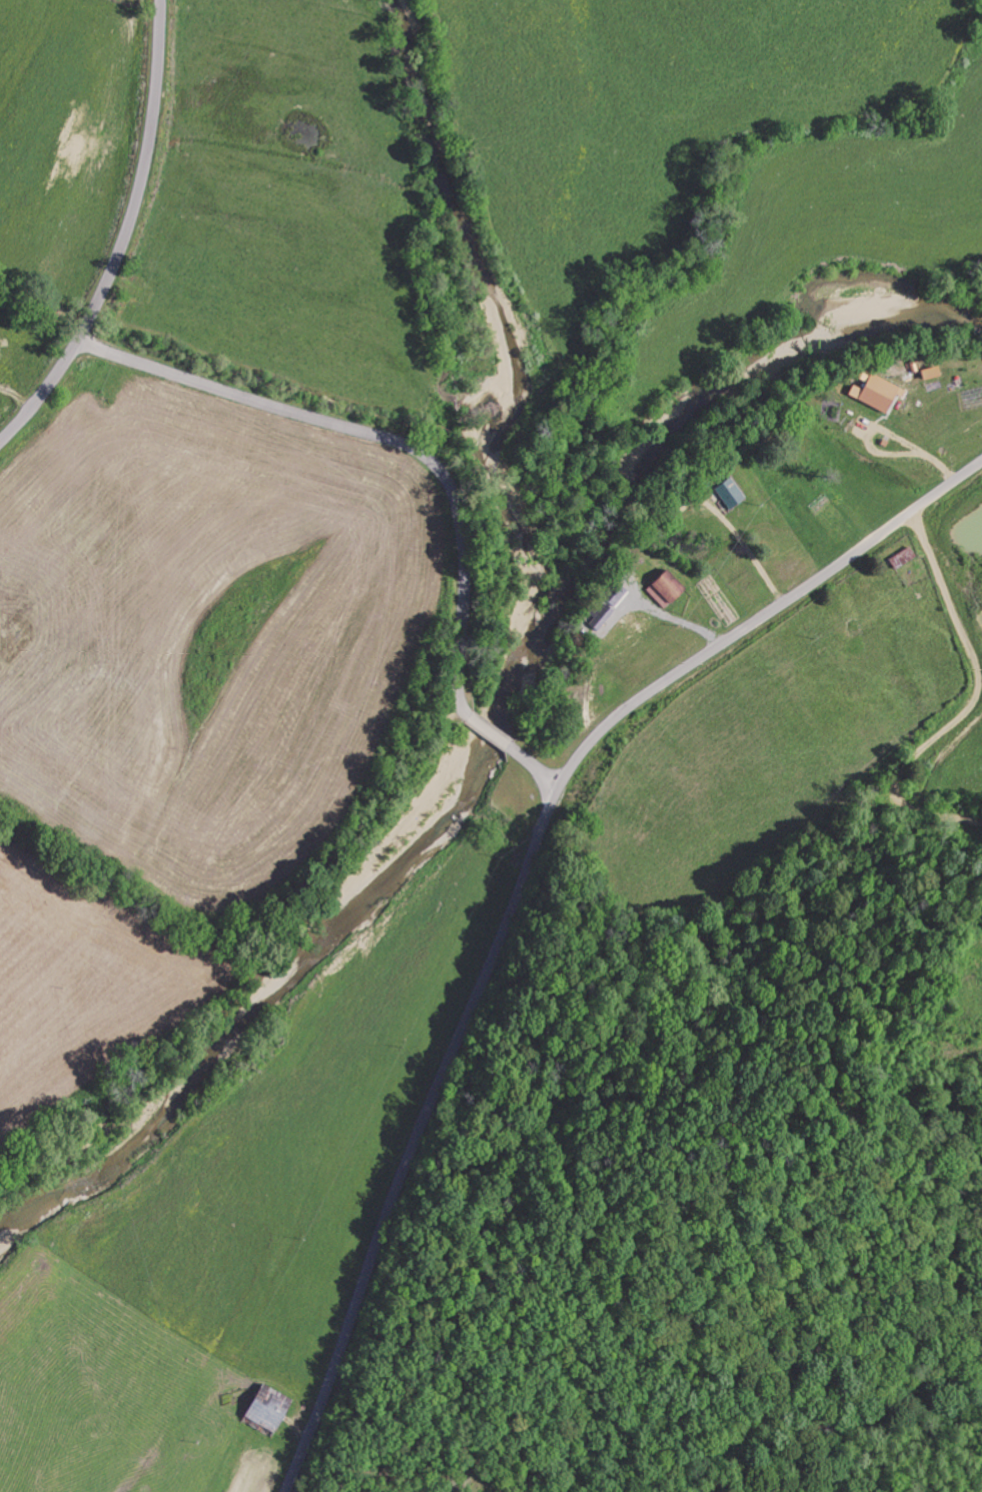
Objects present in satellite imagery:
road: (122, 235)
building: (875, 392)
road: (431, 465)
building: (729, 492)
building: (662, 591)
road: (518, 888)
building: (270, 1408)

